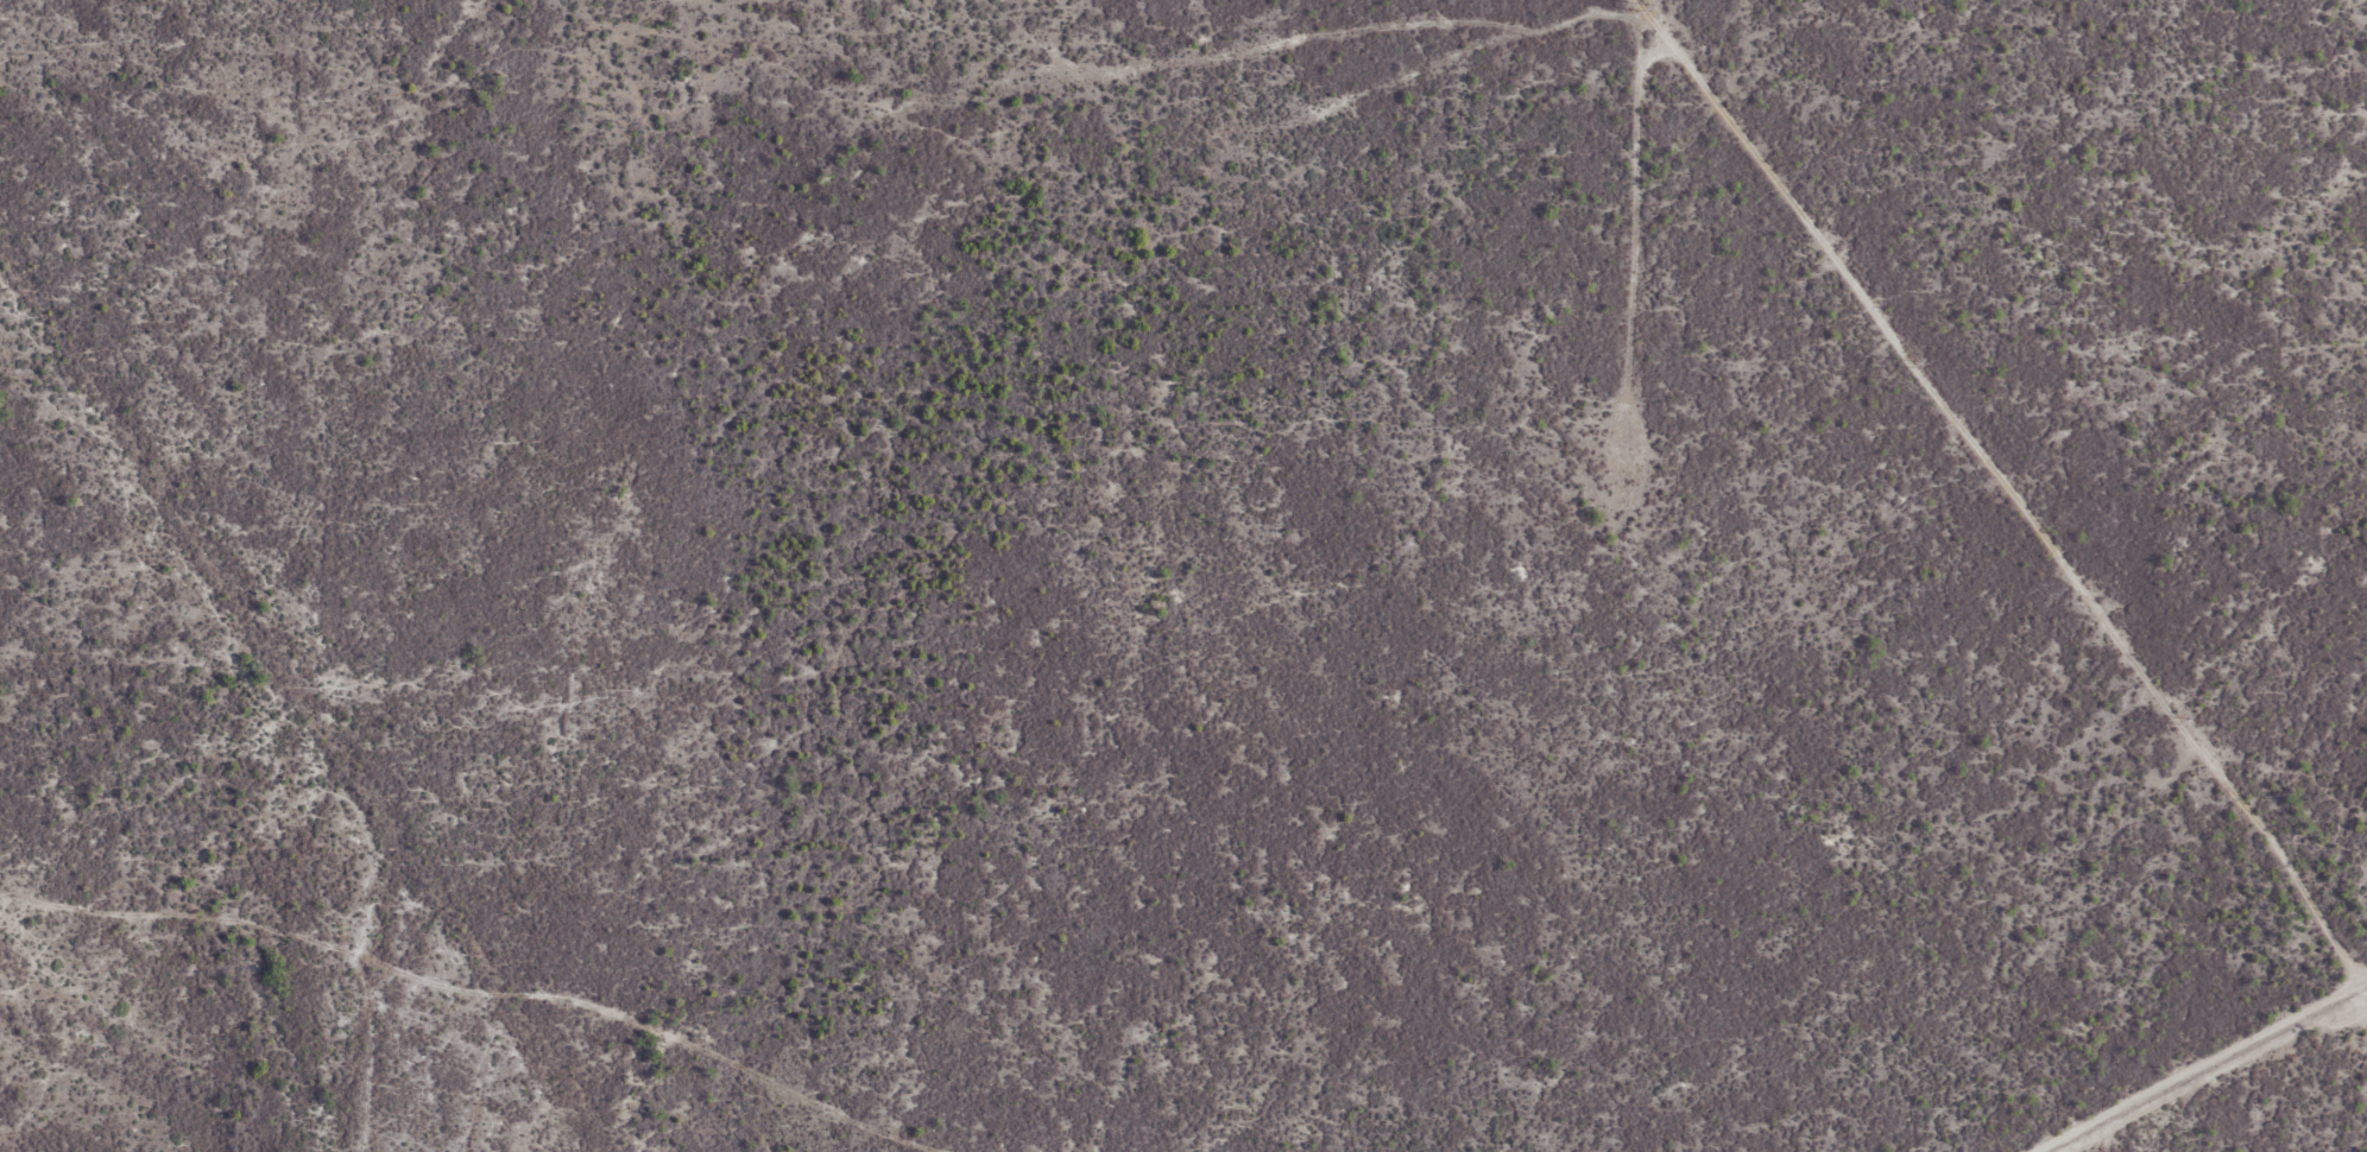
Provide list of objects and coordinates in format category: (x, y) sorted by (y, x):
power tower: (1640, 8)
power tower: (1908, 366)
power tower: (2176, 724)

